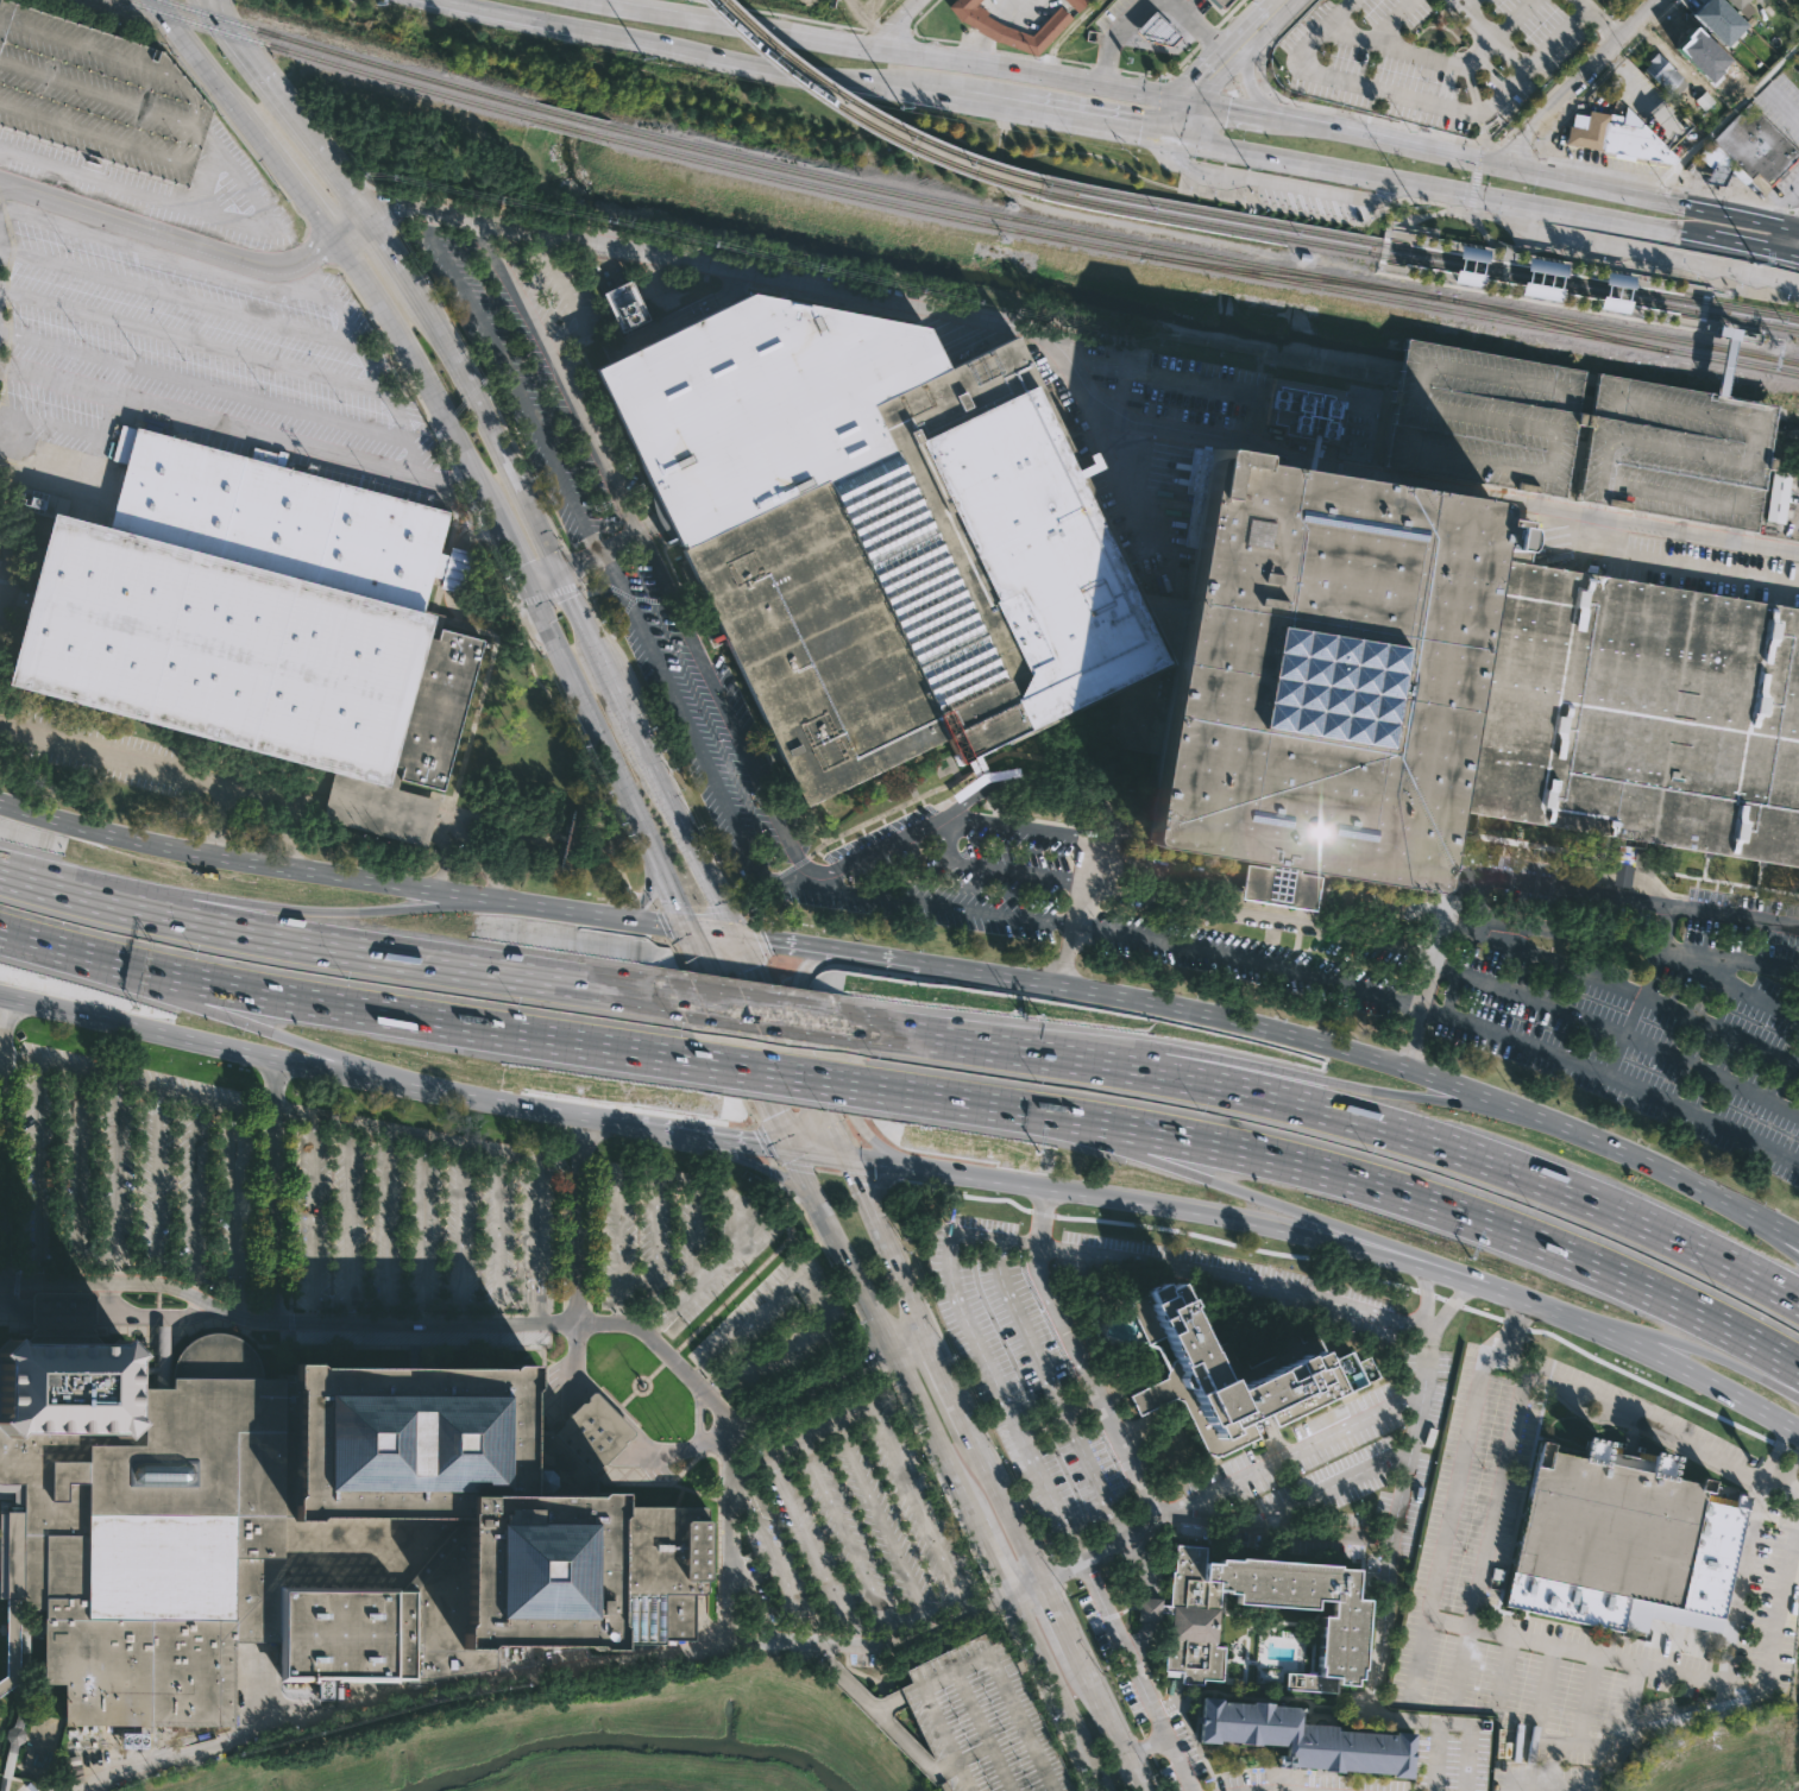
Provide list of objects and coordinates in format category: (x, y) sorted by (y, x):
building: (1222, 2)
building: (1076, 4)
road: (1580, 4)
road: (1467, 5)
building: (1740, 6)
road: (141, 7)
road: (232, 7)
road: (1625, 7)
road: (209, 8)
road: (216, 8)
road: (885, 10)
road: (1272, 11)
road: (1229, 13)
road: (782, 14)
building: (1717, 20)
road: (895, 21)
road: (1392, 21)
road: (870, 25)
road: (1602, 25)
building: (1008, 26)
road: (1201, 26)
road: (1610, 26)
road: (1650, 27)
road: (247, 31)
building: (1156, 31)
gas station: (1156, 31)
road: (891, 32)
road: (914, 33)
road: (1487, 34)
road: (1113, 36)
road: (1207, 36)
road: (845, 42)
building: (1694, 42)
road: (977, 45)
road: (1017, 53)
railway: (346, 56)
parking lot: (1436, 56)
road: (730, 58)
road: (1048, 58)
road: (1220, 58)
road: (1439, 59)
road: (1075, 61)
road: (1616, 61)
road: (203, 62)
railway: (328, 62)
road: (1106, 67)
building: (1663, 75)
road: (1164, 76)
road: (1244, 77)
road: (1579, 80)
road: (1596, 82)
road: (1214, 88)
road: (1141, 92)
road: (273, 93)
building: (99, 94)
parking garage: (99, 94)
traffic signals: (1185, 100)
road: (1421, 103)
road: (1782, 106)
road: (1226, 108)
railway: (872, 111)
road: (1052, 115)
railway: (861, 116)
railway: (571, 118)
road: (1177, 118)
road: (1558, 118)
road: (315, 120)
road: (231, 121)
road: (1399, 125)
railway: (568, 128)
road: (1130, 128)
road: (257, 132)
traffic signals: (1170, 135)
building: (1617, 137)
road: (1534, 147)
road: (1516, 149)
building: (1748, 149)
traffic signals: (1505, 165)
road: (1533, 171)
road: (1606, 171)
road: (1476, 175)
road: (1279, 184)
road: (1438, 184)
road: (298, 188)
road: (1722, 195)
road: (345, 196)
traffic signals: (1502, 196)
railway: (872, 198)
road: (1782, 202)
road: (377, 206)
road: (1260, 206)
road: (1779, 206)
road: (1793, 208)
road: (1798, 210)
road: (216, 213)
railway: (1226, 214)
railway: (1020, 216)
road: (1367, 221)
road: (1402, 225)
road: (1388, 228)
road: (348, 231)
road: (169, 233)
road: (1428, 234)
railway: (1409, 245)
road: (1750, 245)
road: (320, 247)
railway: (1357, 250)
road: (1798, 253)
road: (1642, 254)
road: (1798, 257)
road: (386, 261)
railway: (1289, 275)
railway: (1604, 283)
building: (1542, 290)
road: (1721, 290)
road: (176, 296)
road: (1725, 296)
railway: (1445, 297)
railway: (1404, 301)
building: (625, 307)
railway: (1736, 319)
parking lot: (190, 321)
railway: (1560, 323)
railway: (1675, 323)
railway: (1627, 330)
parking lot: (552, 354)
road: (395, 357)
railway: (1732, 359)
road: (474, 370)
road: (419, 371)
road: (556, 372)
road: (1076, 376)
road: (512, 380)
road: (1229, 386)
road: (391, 406)
building: (1483, 418)
parking garage: (1483, 418)
road: (235, 423)
building: (1677, 452)
parking garage: (1677, 452)
road: (1122, 462)
road: (457, 474)
road: (42, 478)
building: (1779, 498)
road: (1542, 500)
road: (468, 503)
road: (476, 532)
road: (476, 534)
road: (640, 534)
building: (875, 534)
road: (1736, 535)
road: (507, 547)
road: (598, 551)
road: (11, 556)
parking lot: (7, 566)
road: (1677, 566)
road: (570, 567)
building: (451, 568)
road: (454, 569)
traffic signals: (556, 570)
road: (496, 574)
road: (540, 578)
traffic signals: (524, 585)
road: (546, 593)
building: (252, 613)
road: (578, 618)
road: (484, 623)
road: (504, 638)
building: (1449, 687)
road: (587, 718)
road: (658, 751)
road: (1011, 755)
road: (113, 756)
parking lot: (163, 775)
road: (293, 783)
road: (1053, 783)
road: (426, 793)
road: (262, 794)
road: (382, 801)
road: (310, 802)
building: (379, 808)
road: (888, 811)
road: (471, 813)
road: (377, 818)
road: (219, 821)
road: (788, 840)
road: (289, 841)
road: (476, 851)
road: (452, 857)
road: (751, 860)
road: (1084, 862)
road: (244, 864)
building: (1623, 866)
road: (994, 870)
road: (10, 872)
road: (770, 878)
road: (814, 879)
road: (1534, 881)
road: (1719, 882)
building: (1279, 885)
road: (669, 890)
road: (647, 896)
road: (257, 906)
road: (685, 908)
road: (552, 909)
road: (1258, 916)
road: (661, 922)
road: (648, 925)
parking lot: (1308, 925)
traffic signals: (687, 931)
road: (1485, 931)
road: (712, 934)
road: (1070, 935)
road: (760, 938)
traffic signals: (737, 939)
road: (1622, 942)
road: (335, 947)
road: (795, 947)
road: (862, 957)
road: (1246, 959)
road: (1737, 986)
road: (1642, 991)
road: (1621, 999)
road: (346, 1005)
road: (769, 1014)
road: (210, 1015)
road: (2, 1026)
road: (1263, 1028)
road: (710, 1033)
road: (1616, 1033)
road: (738, 1039)
road: (212, 1042)
road: (790, 1047)
road: (825, 1054)
road: (811, 1055)
road: (10, 1057)
road: (798, 1076)
road: (1611, 1078)
road: (132, 1083)
road: (275, 1084)
road: (1377, 1092)
road: (948, 1099)
road: (283, 1108)
road: (537, 1108)
road: (1357, 1116)
road: (671, 1129)
road: (394, 1130)
road: (740, 1140)
traffic signals: (790, 1148)
road: (817, 1152)
traffic signals: (844, 1155)
road: (75, 1162)
road: (754, 1162)
road: (864, 1163)
road: (801, 1168)
road: (772, 1171)
road: (39, 1172)
road: (156, 1174)
road: (1197, 1177)
road: (881, 1179)
road: (883, 1181)
road: (1688, 1181)
road: (117, 1193)
road: (535, 1196)
road: (1411, 1197)
road: (193, 1199)
road: (1120, 1200)
road: (234, 1211)
road: (275, 1217)
road: (575, 1219)
road: (1768, 1221)
road: (753, 1225)
road: (694, 1234)
road: (1768, 1234)
street lamp: (775, 1242)
parking lot: (671, 1243)
road: (1018, 1243)
road: (887, 1245)
road: (654, 1250)
street lamp: (787, 1251)
road: (824, 1251)
road: (618, 1255)
street lamp: (747, 1270)
road: (1453, 1274)
road: (231, 1276)
street lamp: (759, 1281)
parking lot: (1228, 1281)
road: (95, 1282)
road: (1426, 1294)
road: (531, 1297)
road: (540, 1297)
road: (111, 1298)
road: (814, 1299)
road: (728, 1300)
road: (326, 1301)
road: (400, 1301)
road: (474, 1301)
street lamp: (717, 1301)
road: (1453, 1301)
road: (347, 1308)
street lamp: (728, 1312)
road: (100, 1313)
road: (478, 1323)
street lamp: (688, 1329)
road: (1658, 1335)
street lamp: (699, 1339)
road: (266, 1347)
road: (910, 1347)
road: (876, 1351)
road: (1077, 1357)
road: (1658, 1357)
road: (574, 1366)
road: (957, 1371)
parking lot: (1021, 1377)
building: (1234, 1377)
road: (636, 1379)
road: (949, 1383)
road: (543, 1390)
road: (810, 1390)
road: (1053, 1390)
road: (623, 1402)
road: (1062, 1419)
road: (1643, 1423)
road: (599, 1427)
road: (1329, 1434)
building: (585, 1439)
road: (585, 1440)
road: (1464, 1446)
road: (678, 1449)
road: (577, 1451)
road: (1775, 1453)
road: (892, 1457)
road: (1791, 1468)
road: (946, 1469)
road: (755, 1471)
road: (603, 1476)
road: (939, 1480)
road: (735, 1481)
road: (1499, 1484)
road: (1782, 1487)
road: (6, 1495)
park: (6, 1496)
road: (749, 1497)
road: (743, 1501)
road: (1004, 1505)
road: (1295, 1505)
road: (879, 1521)
parking lot: (847, 1525)
building: (308, 1527)
road: (1322, 1533)
road: (729, 1534)
road: (807, 1541)
building: (1622, 1541)
road: (1112, 1544)
road: (853, 1547)
road: (1143, 1565)
road: (779, 1570)
road: (1051, 1570)
road: (1024, 1587)
road: (1737, 1591)
road: (996, 1604)
road: (1149, 1609)
road: (919, 1614)
road: (1058, 1617)
building: (1341, 1619)
road: (824, 1622)
road: (1385, 1631)
park: (2, 1639)
road: (1141, 1639)
road: (856, 1645)
building: (11, 1646)
road: (1575, 1651)
street lamp: (968, 1654)
road: (1420, 1654)
road: (832, 1660)
road: (1096, 1663)
road: (969, 1664)
road: (1460, 1666)
road: (1767, 1667)
street lamp: (976, 1671)
street lamp: (935, 1672)
road: (1502, 1672)
road: (1137, 1675)
street lamp: (983, 1686)
road: (258, 1688)
street lamp: (943, 1688)
road: (1586, 1699)
street lamp: (990, 1701)
road: (378, 1702)
road: (888, 1703)
street lamp: (949, 1703)
road: (1046, 1703)
road: (1629, 1707)
road: (870, 1708)
street lamp: (998, 1715)
street lamp: (956, 1717)
helipad: (971, 1719)
building: (982, 1721)
parking garage: (982, 1721)
road: (1108, 1723)
street lamp: (1004, 1729)
road: (982, 1730)
street lamp: (963, 1733)
road: (1533, 1734)
building: (1303, 1739)
street lamp: (1011, 1745)
street lamp: (970, 1746)
road: (1144, 1746)
building: (12, 1747)
road: (1137, 1751)
road: (1435, 1757)
road: (964, 1758)
street lamp: (1018, 1759)
street lamp: (977, 1760)
road: (1550, 1760)
street lamp: (1025, 1773)
street lamp: (985, 1774)
road: (1150, 1776)
road: (1547, 1779)
parking lot: (26, 1787)
street lamp: (1031, 1787)
street lamp: (990, 1789)
road: (1284, 1790)

